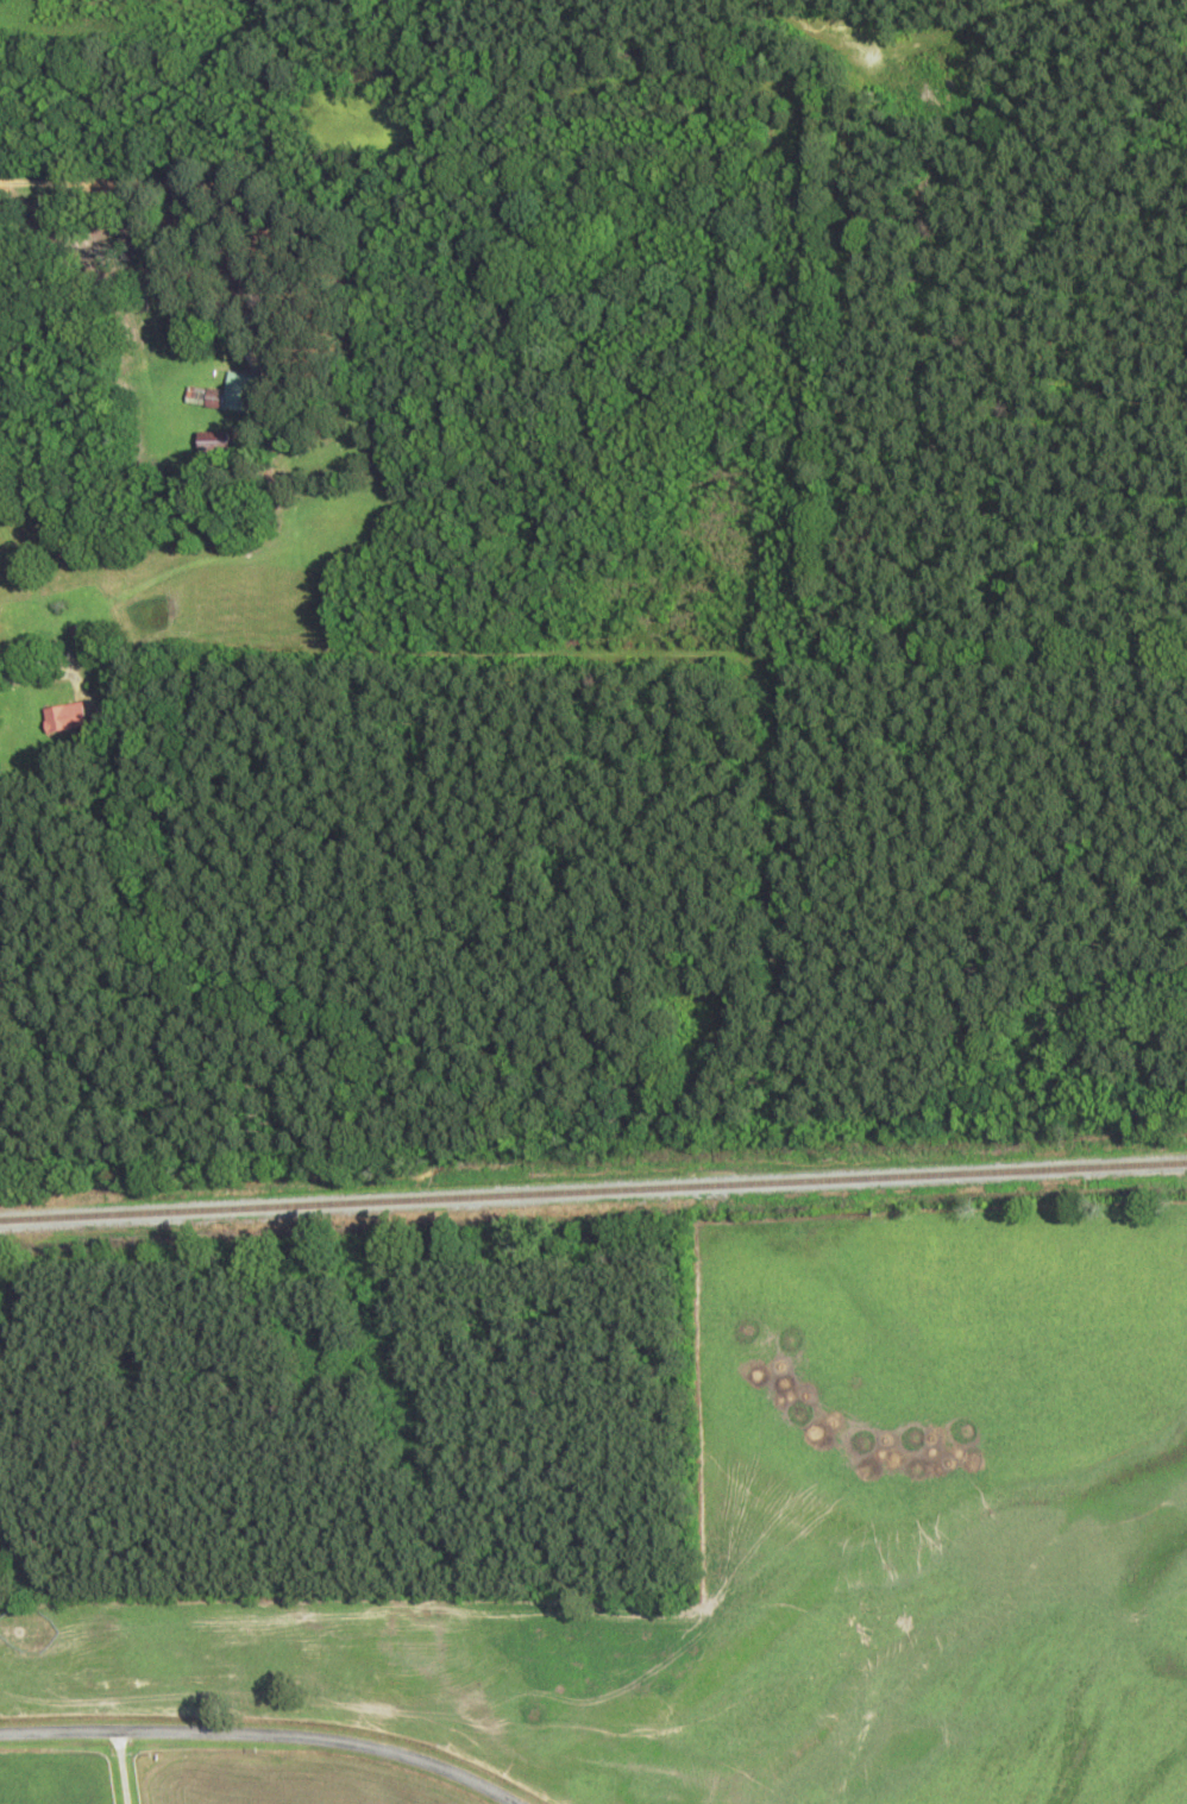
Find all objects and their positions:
building: (228, 395)
building: (214, 447)
building: (65, 717)
railway: (593, 1192)
road: (260, 1734)

